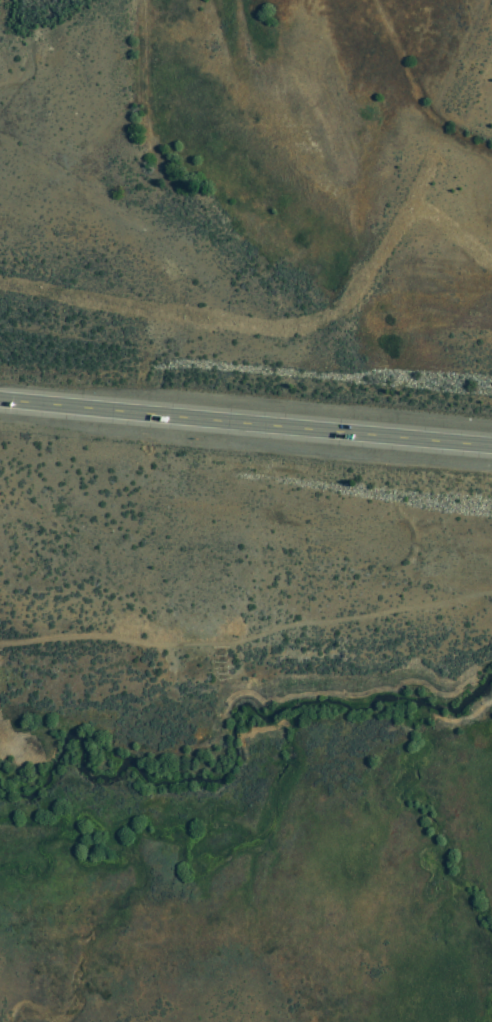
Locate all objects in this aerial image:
road: (245, 422)
road: (246, 626)

